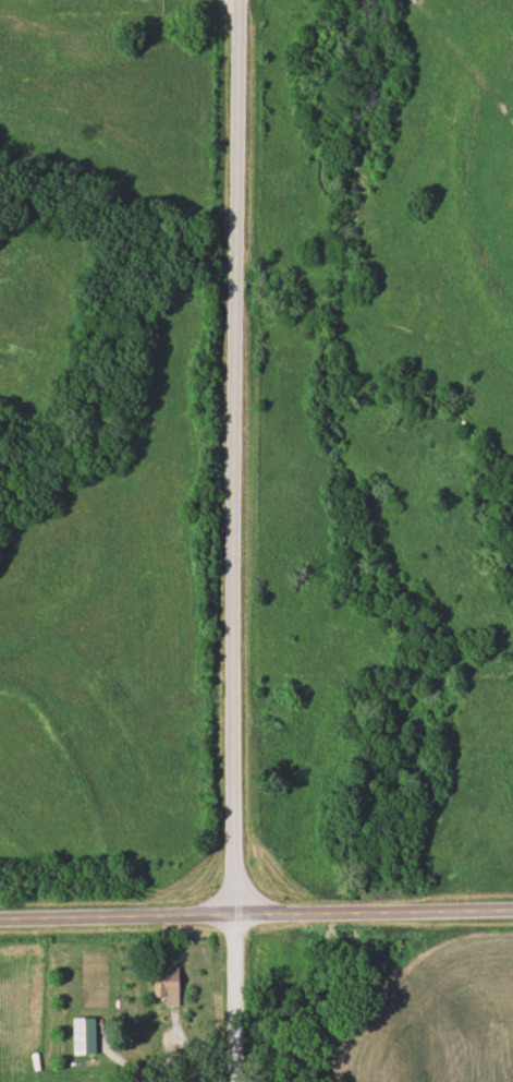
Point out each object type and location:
road: (237, 454)
road: (256, 910)
building: (163, 984)
road: (235, 995)
road: (135, 1071)

